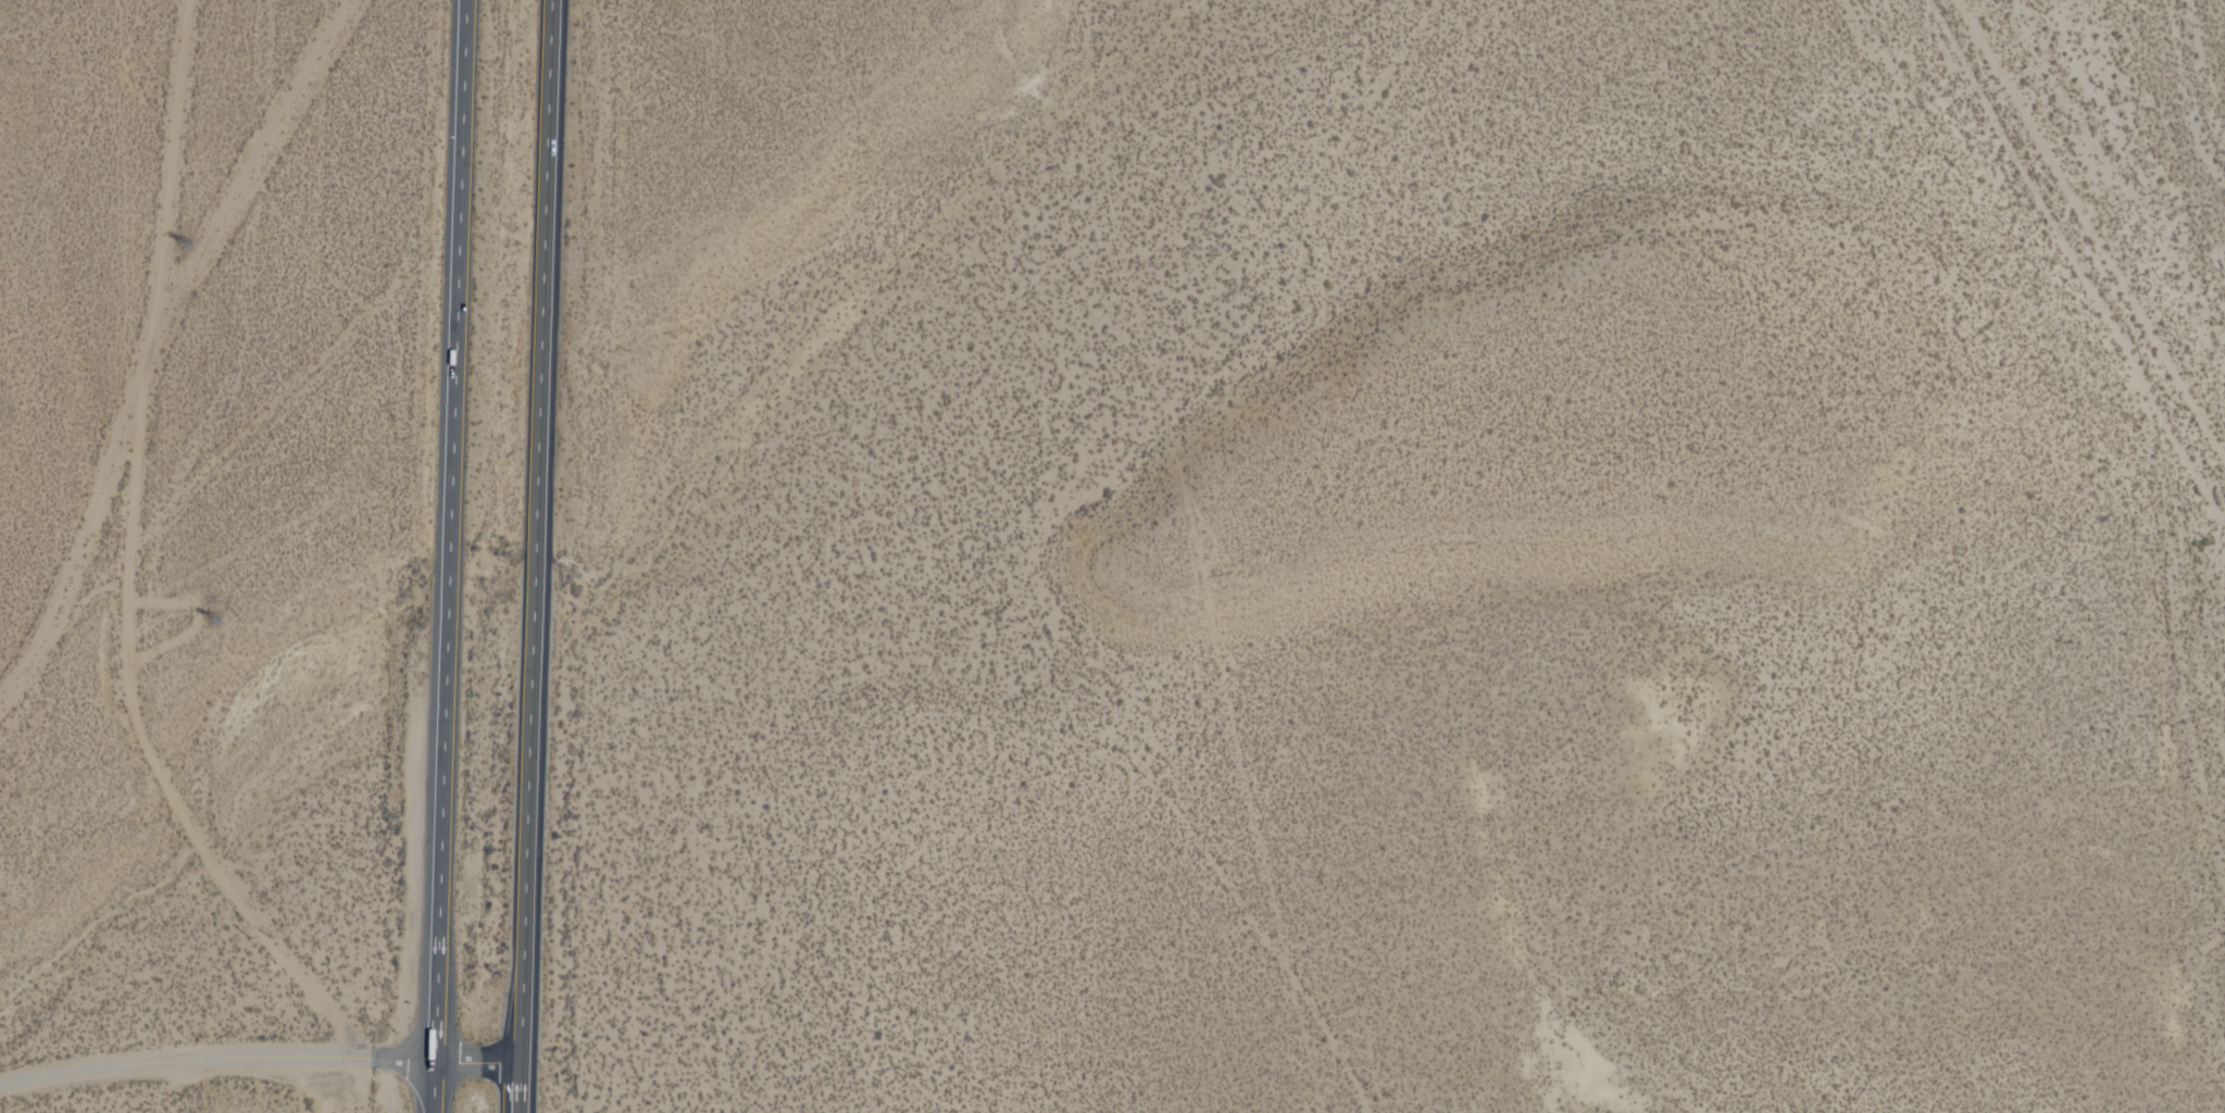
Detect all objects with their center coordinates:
power tower: (175, 239)
road: (2070, 268)
road: (161, 338)
road: (536, 532)
road: (449, 556)
road: (114, 558)
power tower: (211, 629)
power tower: (247, 986)
road: (216, 1058)
road: (476, 1063)
road: (387, 1086)
road: (516, 1088)

